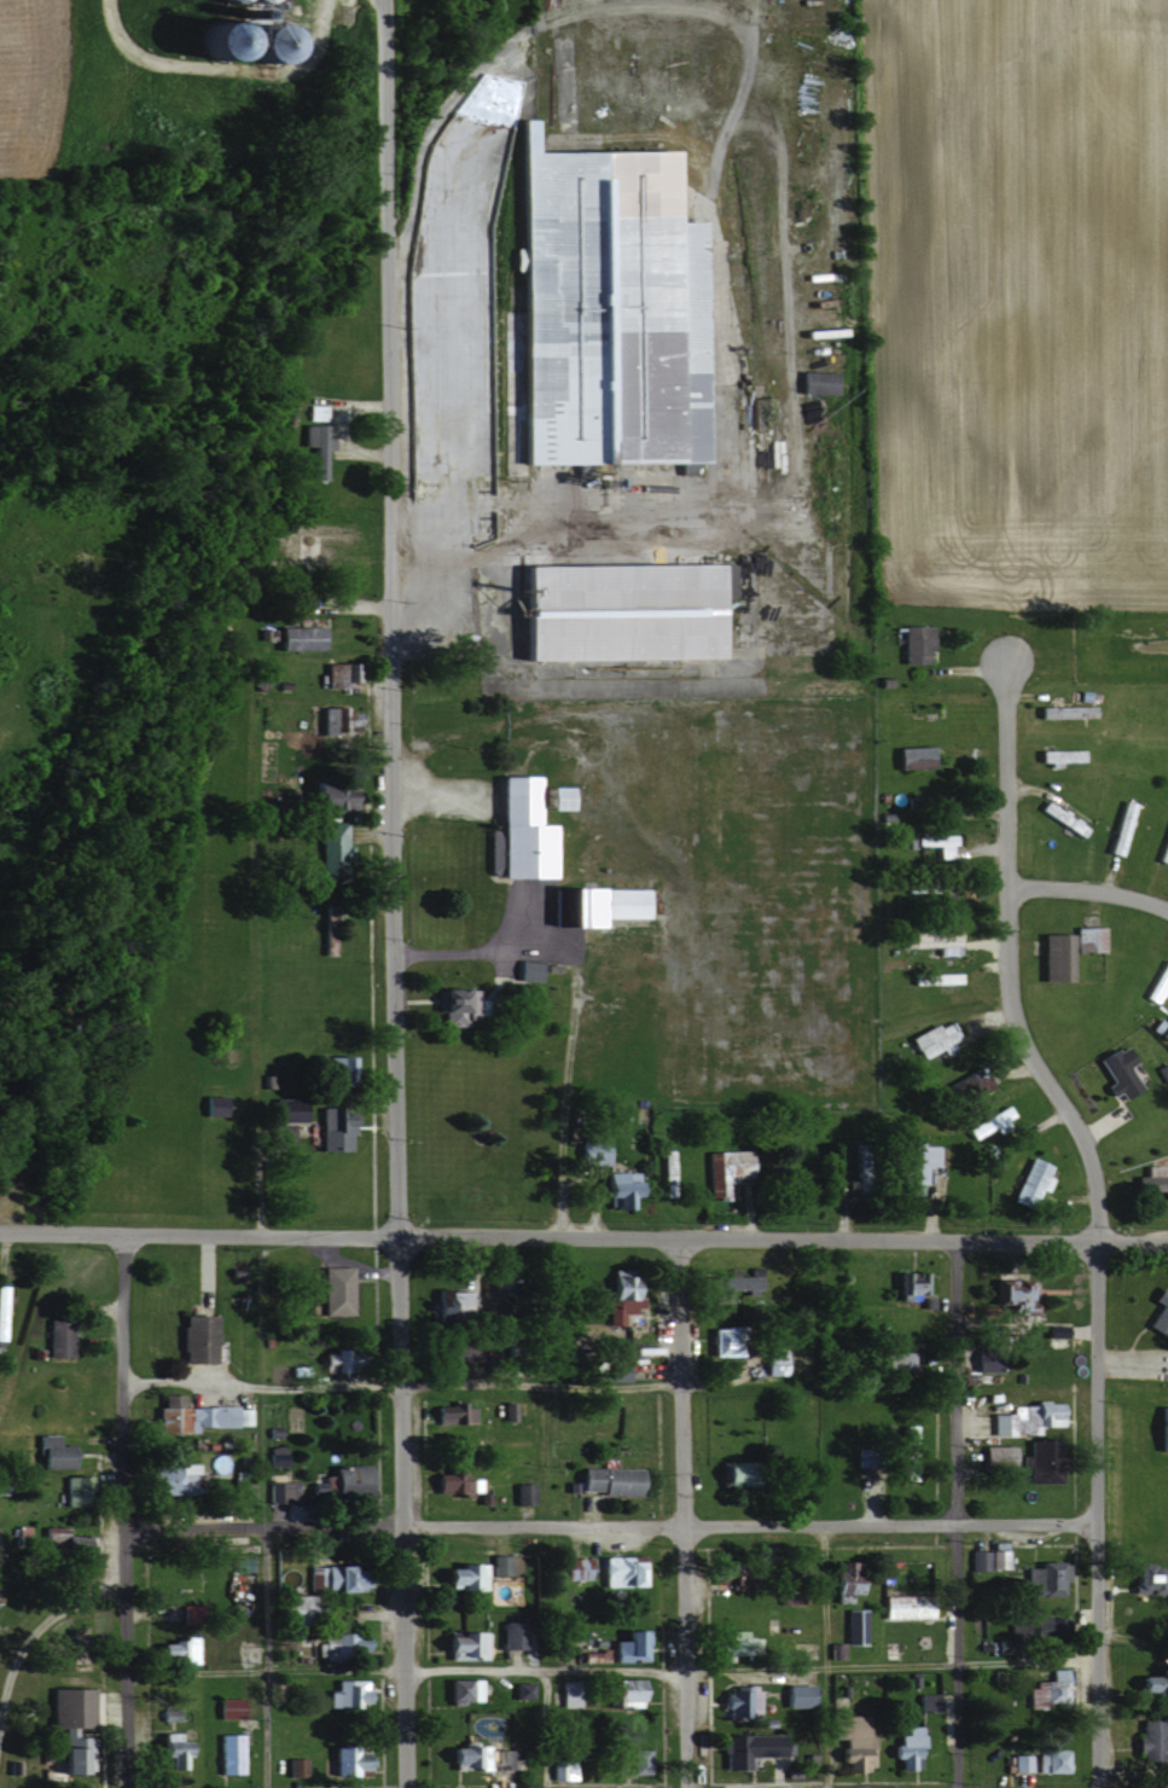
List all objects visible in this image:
building: (252, 0)
road: (220, 74)
road: (382, 185)
building: (602, 308)
building: (815, 382)
building: (314, 411)
building: (315, 447)
road: (563, 527)
building: (327, 532)
building: (617, 610)
building: (297, 637)
building: (912, 643)
building: (337, 673)
building: (1063, 709)
building: (336, 719)
building: (911, 756)
building: (1056, 756)
building: (326, 797)
building: (519, 826)
building: (932, 843)
building: (329, 848)
road: (1088, 894)
building: (595, 905)
building: (1085, 937)
building: (1051, 957)
building: (527, 970)
building: (1156, 982)
building: (453, 1005)
road: (573, 1009)
building: (931, 1040)
building: (337, 1070)
building: (1115, 1070)
road: (393, 1079)
building: (975, 1085)
building: (209, 1105)
building: (283, 1109)
building: (987, 1121)
building: (332, 1127)
building: (589, 1151)
building: (916, 1166)
road: (254, 1167)
building: (720, 1169)
building: (1151, 1180)
building: (1029, 1182)
building: (616, 1188)
road: (1092, 1214)
road: (4, 1231)
road: (587, 1241)
building: (732, 1281)
building: (910, 1284)
building: (333, 1290)
building: (720, 1296)
building: (1011, 1296)
building: (618, 1299)
building: (454, 1306)
building: (2, 1311)
building: (1158, 1312)
building: (54, 1337)
building: (192, 1339)
building: (719, 1341)
building: (455, 1354)
building: (901, 1358)
building: (774, 1363)
building: (981, 1365)
building: (612, 1370)
road: (261, 1382)
road: (540, 1386)
building: (194, 1413)
building: (451, 1413)
building: (1023, 1418)
building: (1161, 1428)
building: (51, 1451)
building: (905, 1452)
building: (1001, 1456)
building: (1041, 1465)
building: (727, 1474)
building: (344, 1478)
building: (169, 1479)
building: (605, 1479)
building: (451, 1480)
building: (74, 1488)
building: (239, 1490)
building: (274, 1491)
building: (521, 1492)
road: (124, 1511)
road: (685, 1514)
road: (951, 1514)
road: (611, 1526)
building: (65, 1540)
building: (498, 1563)
building: (579, 1566)
building: (620, 1569)
building: (470, 1574)
building: (725, 1574)
building: (330, 1575)
building: (1149, 1575)
building: (1041, 1577)
building: (844, 1579)
building: (786, 1595)
building: (291, 1600)
building: (903, 1606)
road: (33, 1615)
building: (855, 1625)
building: (1039, 1631)
building: (509, 1633)
building: (627, 1644)
building: (173, 1649)
building: (727, 1649)
building: (833, 1649)
road: (823, 1656)
road: (263, 1658)
road: (610, 1671)
building: (1146, 1683)
building: (460, 1689)
building: (622, 1690)
building: (1047, 1690)
building: (347, 1691)
building: (566, 1691)
building: (740, 1700)
building: (924, 1701)
building: (226, 1706)
building: (69, 1729)
road: (546, 1729)
building: (849, 1740)
building: (750, 1746)
building: (905, 1747)
building: (1150, 1748)
building: (169, 1752)
building: (226, 1752)
building: (477, 1755)
building: (627, 1759)
building: (1050, 1759)
building: (347, 1760)
building: (1018, 1760)
building: (294, 1766)
building: (559, 1769)

